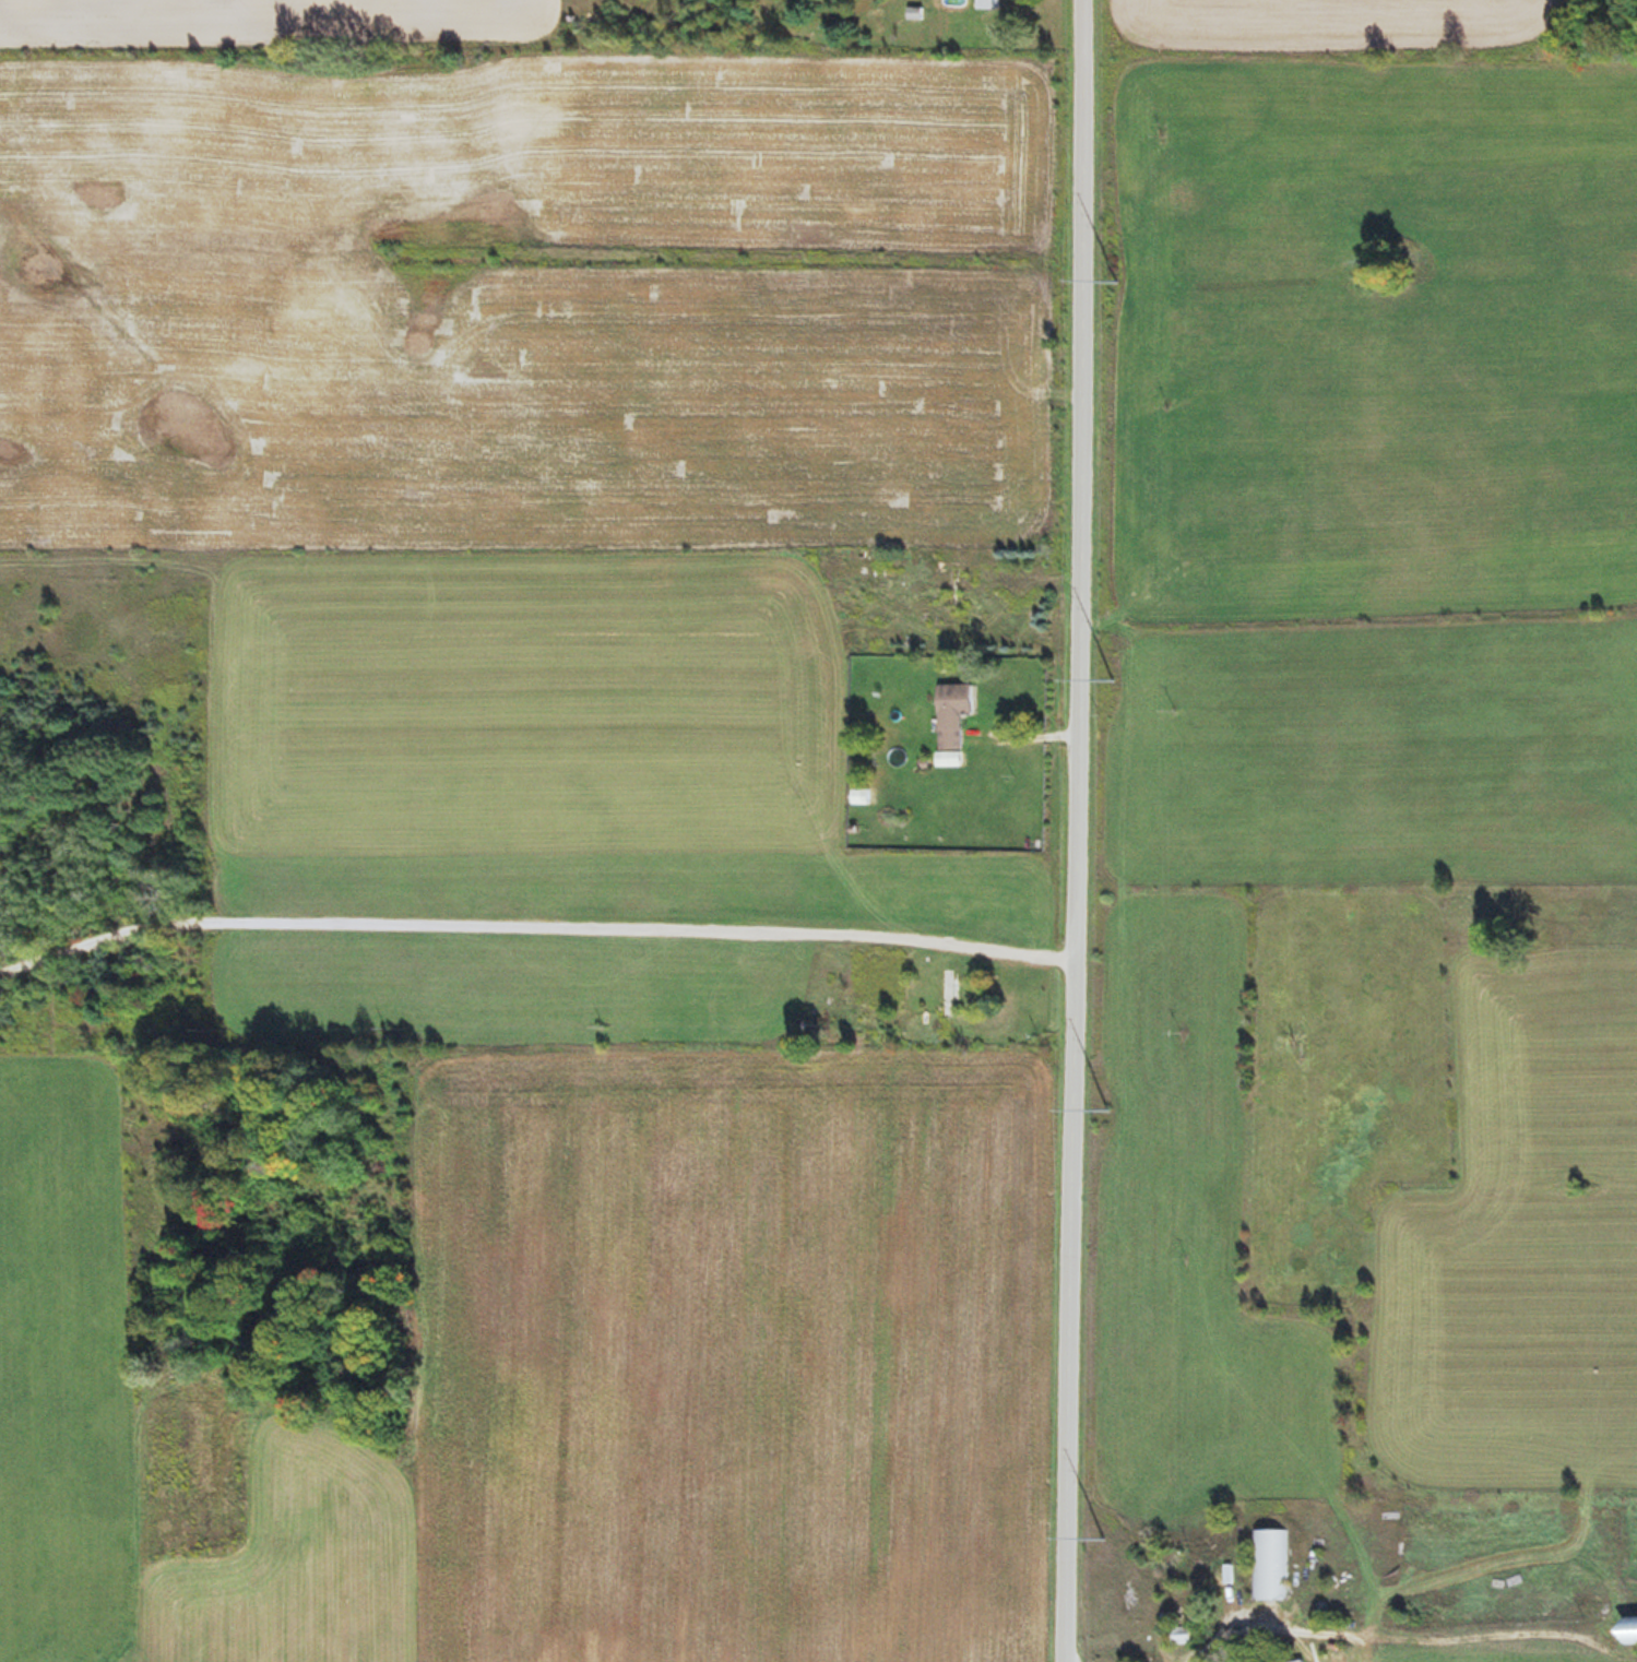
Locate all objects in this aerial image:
building: (985, 4)
building: (952, 590)
building: (949, 715)
road: (1070, 830)
building: (945, 996)
building: (1269, 1565)
building: (1626, 1629)
building: (1297, 1661)

